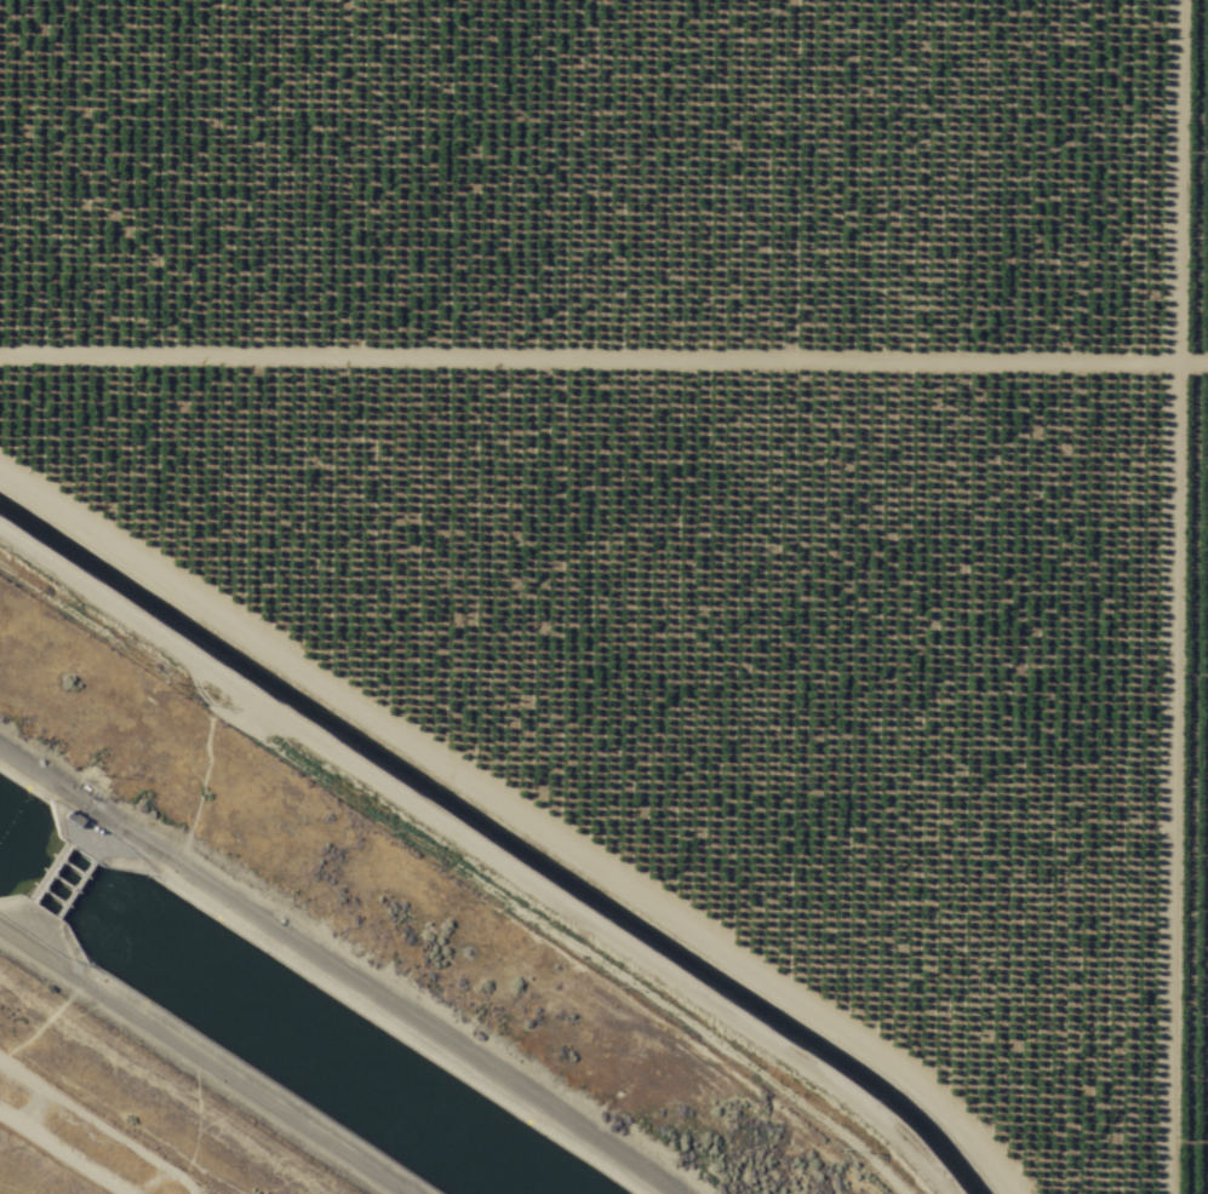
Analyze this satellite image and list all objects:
road: (200, 1062)

